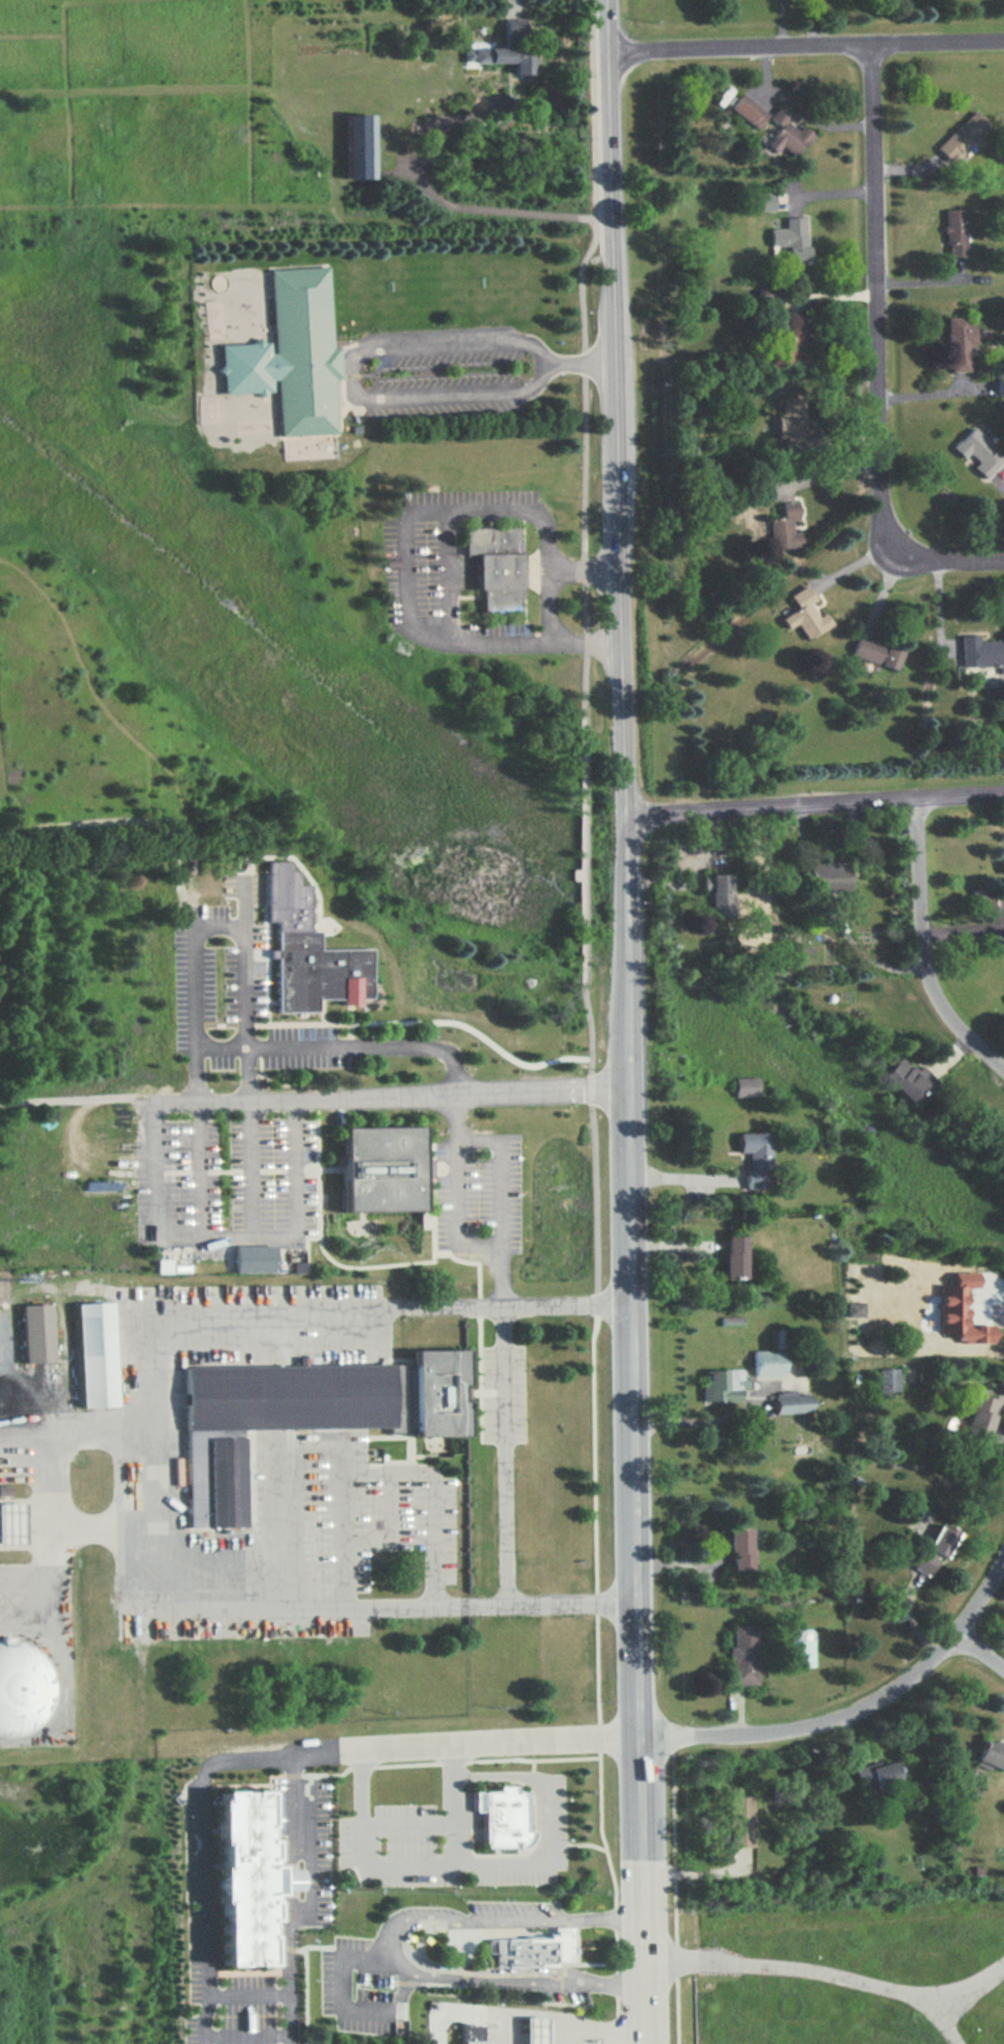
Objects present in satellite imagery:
road: (511, 3)
road: (806, 44)
building: (503, 46)
road: (799, 110)
building: (771, 126)
building: (962, 137)
building: (361, 142)
road: (443, 201)
building: (764, 201)
building: (955, 232)
building: (791, 238)
building: (959, 343)
building: (292, 355)
road: (879, 358)
road: (583, 364)
parking lot: (447, 381)
building: (1001, 388)
road: (377, 398)
road: (614, 405)
building: (791, 422)
building: (978, 452)
road: (581, 508)
building: (782, 523)
building: (497, 566)
parking lot: (447, 570)
road: (408, 571)
road: (583, 571)
road: (548, 576)
road: (447, 577)
building: (804, 612)
road: (584, 643)
road: (586, 651)
building: (877, 653)
building: (980, 654)
road: (814, 800)
building: (827, 872)
building: (719, 894)
building: (983, 895)
road: (219, 923)
road: (925, 942)
road: (624, 947)
building: (318, 972)
parking lot: (239, 999)
flagpole: (332, 1010)
road: (248, 1073)
road: (197, 1074)
road: (453, 1074)
building: (903, 1080)
building: (745, 1083)
road: (388, 1094)
building: (755, 1159)
road: (251, 1167)
road: (200, 1169)
building: (381, 1169)
parking lot: (225, 1174)
road: (682, 1176)
building: (104, 1182)
parking lot: (478, 1186)
road: (627, 1194)
road: (457, 1212)
road: (227, 1235)
building: (256, 1255)
building: (732, 1256)
road: (992, 1304)
road: (564, 1305)
building: (877, 1307)
building: (731, 1318)
building: (37, 1334)
building: (96, 1356)
building: (768, 1362)
building: (722, 1385)
parking lot: (504, 1394)
building: (792, 1401)
building: (307, 1414)
building: (984, 1416)
road: (694, 1420)
road: (78, 1439)
road: (503, 1454)
road: (156, 1459)
building: (5, 1488)
road: (391, 1517)
building: (12, 1520)
road: (633, 1520)
road: (78, 1523)
road: (277, 1524)
road: (340, 1527)
road: (434, 1536)
parking lot: (312, 1542)
building: (739, 1549)
building: (933, 1550)
road: (571, 1602)
road: (592, 1606)
road: (983, 1649)
building: (798, 1650)
building: (743, 1654)
building: (24, 1683)
road: (849, 1712)
road: (462, 1742)
building: (992, 1756)
road: (317, 1757)
road: (235, 1763)
road: (497, 1775)
building: (877, 1777)
road: (452, 1802)
road: (298, 1811)
building: (503, 1816)
building: (741, 1818)
parking lot: (559, 1820)
parking lot: (411, 1831)
parking lot: (309, 1833)
parking lot: (346, 1844)
road: (427, 1863)
road: (694, 1869)
building: (238, 1872)
building: (281, 1882)
road: (312, 1888)
road: (642, 1890)
parking lot: (514, 1909)
road: (205, 1922)
parking lot: (192, 1924)
road: (406, 1933)
road: (289, 1939)
road: (387, 1943)
building: (531, 1950)
road: (469, 1969)
road: (619, 1975)
road: (830, 1975)
parking lot: (360, 1995)
parking lot: (564, 1997)
road: (342, 2008)
road: (455, 2011)
parking lot: (251, 2012)
road: (526, 2014)
road: (949, 2024)
road: (600, 2029)
building: (533, 2030)
building: (470, 2033)
road: (528, 2038)
road: (556, 2041)
road: (565, 2041)

